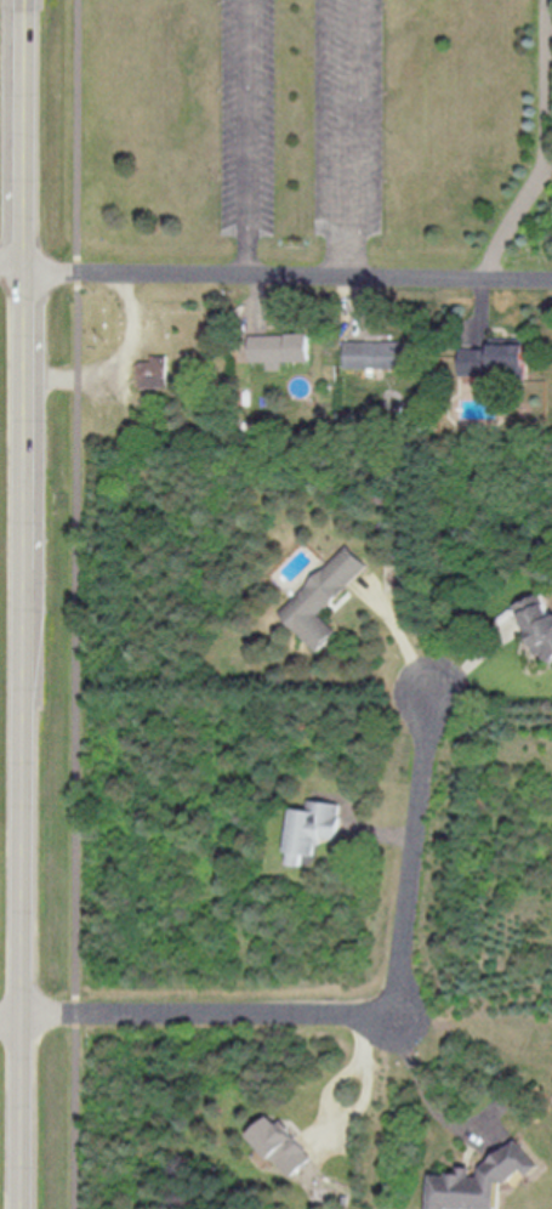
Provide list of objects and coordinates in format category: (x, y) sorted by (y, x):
parking lot: (250, 117)
parking lot: (351, 117)
road: (78, 129)
road: (323, 130)
road: (24, 134)
road: (250, 137)
road: (362, 140)
road: (545, 146)
road: (79, 272)
road: (275, 274)
road: (79, 327)
building: (283, 348)
building: (382, 354)
building: (496, 358)
road: (118, 362)
building: (154, 373)
road: (79, 378)
road: (23, 458)
building: (324, 597)
building: (539, 623)
road: (402, 638)
road: (76, 693)
building: (311, 828)
road: (22, 929)
road: (76, 1011)
road: (363, 1012)
road: (11, 1018)
road: (420, 1082)
road: (75, 1118)
building: (283, 1145)
building: (482, 1180)

